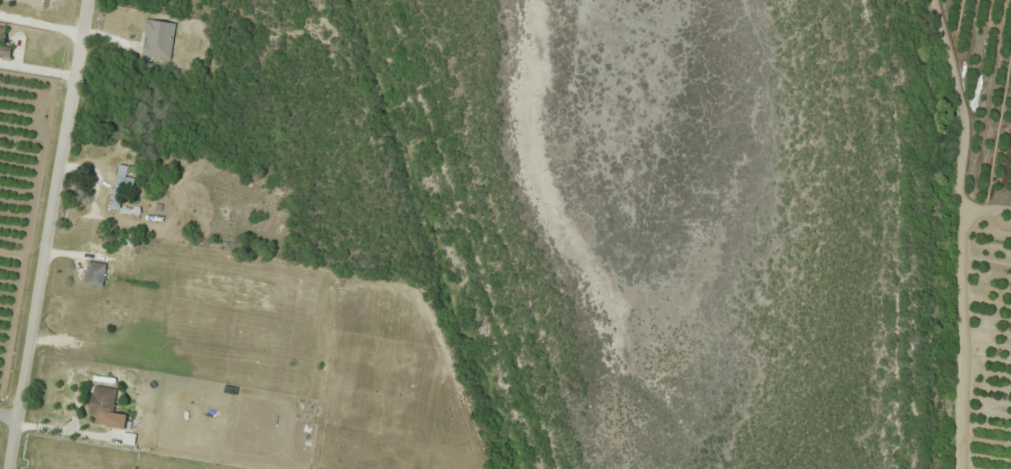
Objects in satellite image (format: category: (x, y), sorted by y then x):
building: (2, 36)
building: (158, 39)
building: (122, 185)
road: (47, 234)
building: (127, 240)
building: (95, 274)
building: (106, 408)

